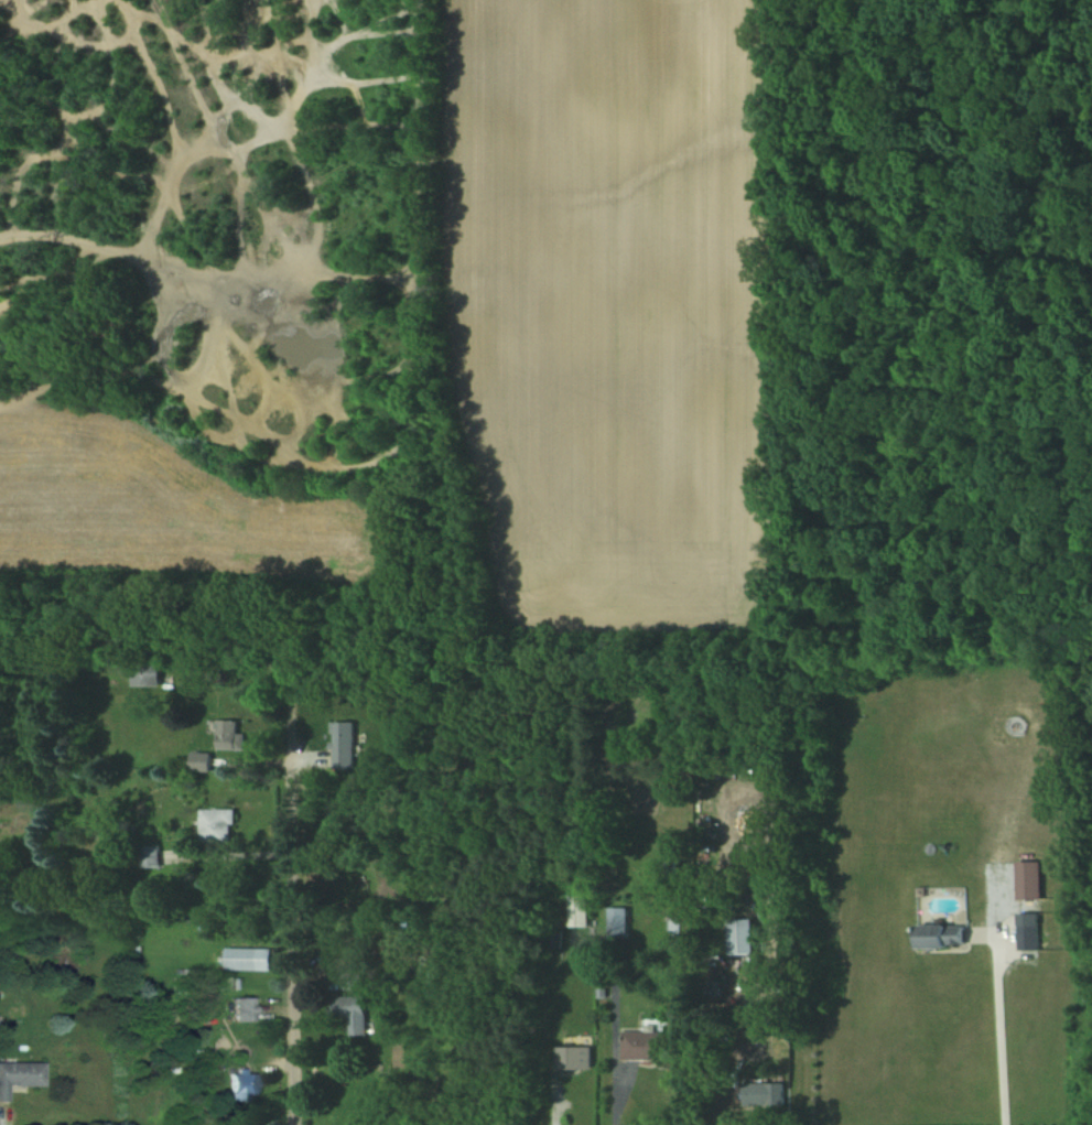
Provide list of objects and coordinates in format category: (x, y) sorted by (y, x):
building: (143, 673)
building: (227, 735)
building: (340, 744)
building: (198, 760)
building: (215, 824)
building: (148, 855)
building: (576, 909)
building: (616, 921)
road: (292, 934)
building: (938, 934)
building: (738, 935)
building: (1026, 935)
building: (246, 958)
building: (349, 978)
building: (245, 1009)
building: (347, 1010)
road: (997, 1027)
building: (650, 1046)
building: (571, 1057)
building: (20, 1074)
building: (244, 1086)
building: (761, 1093)

